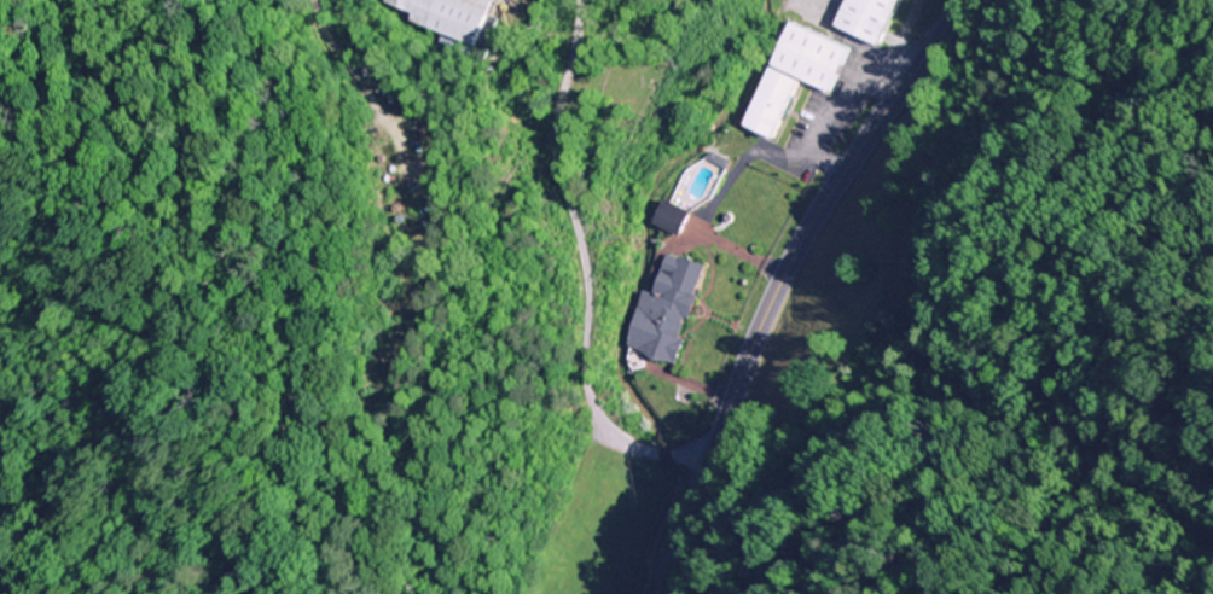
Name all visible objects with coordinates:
building: (445, 16)
building: (869, 18)
building: (795, 75)
building: (672, 219)
road: (580, 269)
road: (782, 280)
building: (667, 310)

